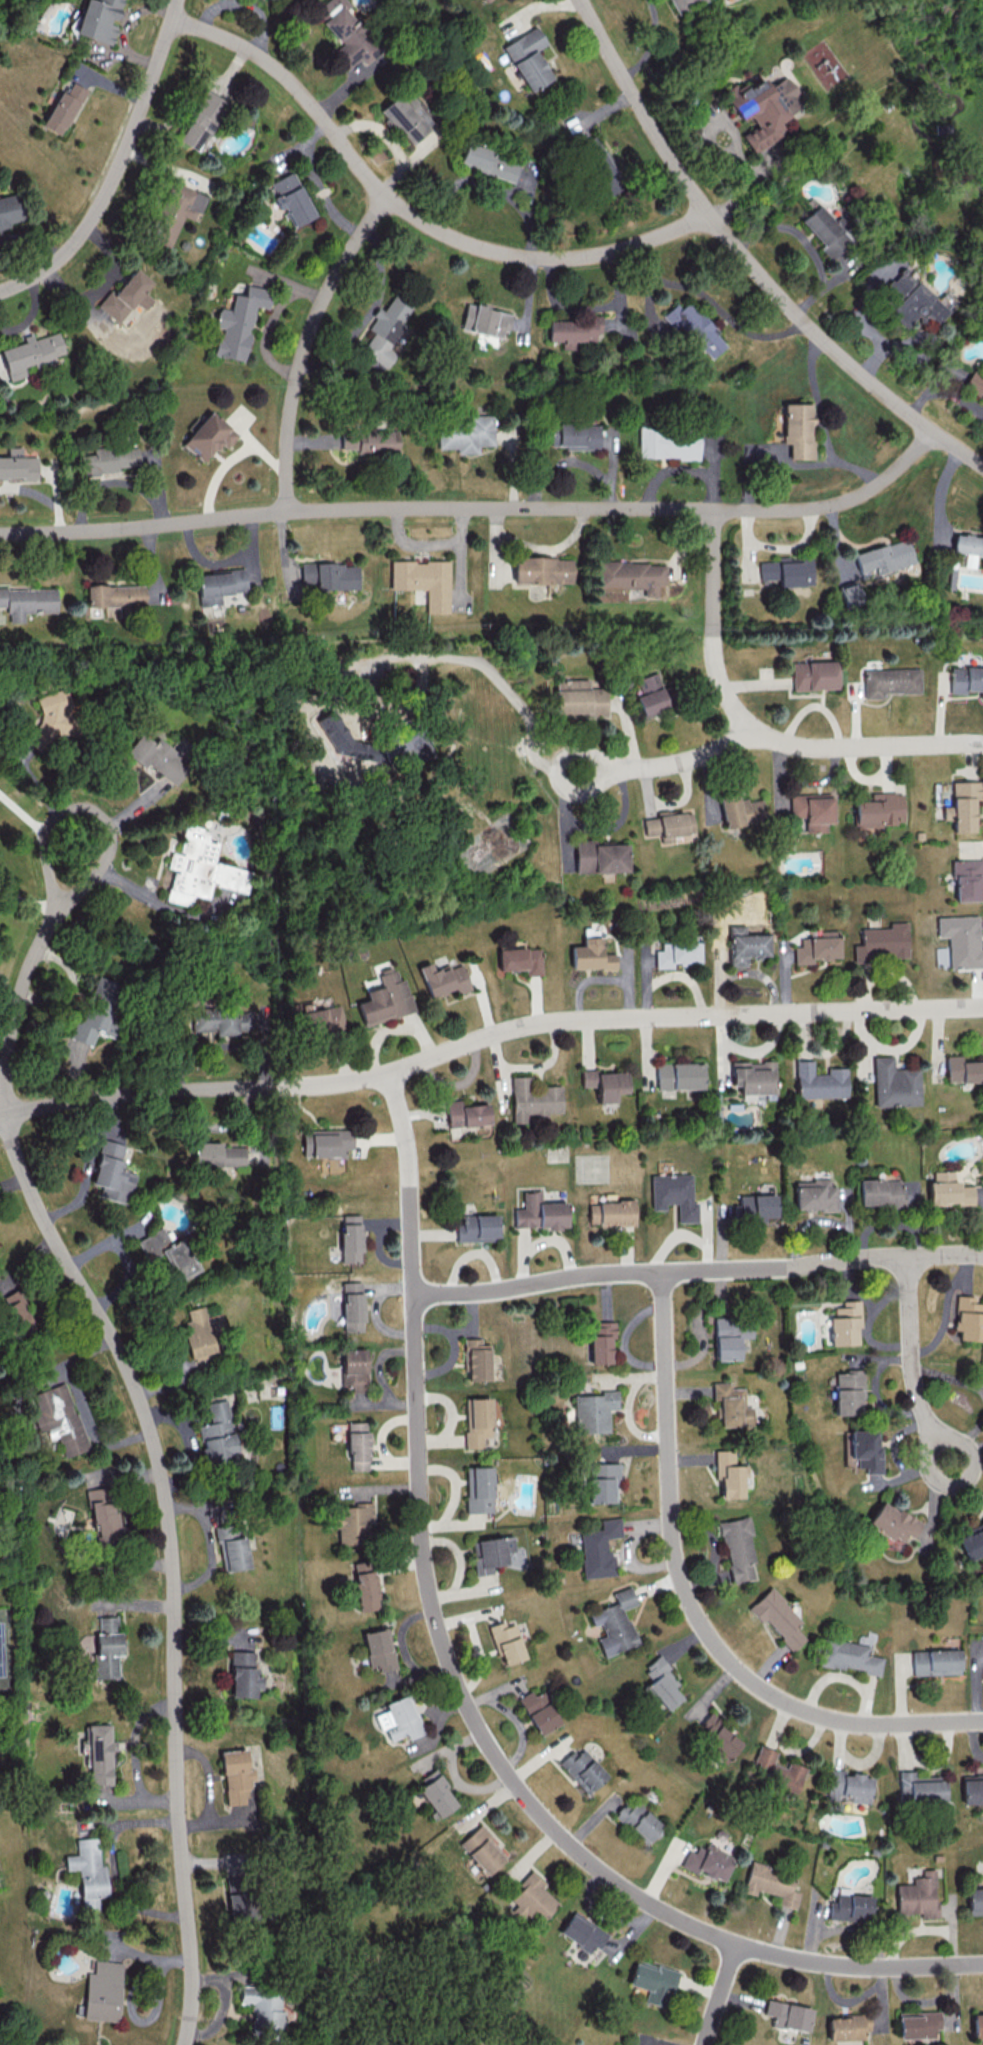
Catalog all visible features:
building: (281, 0)
building: (482, 0)
building: (97, 20)
building: (345, 33)
building: (528, 58)
building: (62, 108)
building: (761, 108)
building: (404, 119)
building: (202, 120)
building: (489, 161)
road: (120, 167)
building: (604, 173)
building: (291, 198)
building: (9, 210)
building: (176, 212)
road: (411, 212)
building: (823, 231)
road: (751, 259)
building: (127, 295)
building: (910, 301)
building: (485, 320)
building: (238, 322)
building: (694, 327)
building: (385, 330)
building: (573, 330)
road: (310, 345)
building: (30, 353)
building: (974, 384)
building: (798, 429)
building: (466, 433)
building: (208, 436)
building: (577, 436)
building: (370, 441)
building: (668, 443)
road: (829, 455)
building: (108, 459)
building: (18, 464)
road: (853, 468)
road: (480, 504)
building: (969, 547)
building: (884, 557)
building: (543, 570)
building: (788, 571)
building: (331, 575)
building: (632, 576)
building: (423, 581)
building: (218, 585)
building: (114, 595)
building: (26, 601)
road: (715, 623)
road: (398, 657)
building: (814, 675)
building: (966, 679)
building: (890, 681)
building: (580, 697)
building: (652, 701)
building: (50, 716)
road: (630, 733)
road: (789, 737)
building: (371, 742)
building: (156, 757)
road: (557, 770)
building: (962, 805)
road: (86, 807)
building: (879, 809)
building: (740, 811)
building: (811, 811)
road: (21, 812)
building: (669, 825)
building: (600, 857)
building: (199, 868)
building: (967, 880)
road: (156, 903)
building: (961, 940)
building: (882, 943)
building: (745, 945)
building: (817, 947)
building: (591, 952)
building: (676, 953)
building: (520, 959)
building: (443, 979)
building: (385, 999)
building: (97, 1010)
building: (224, 1020)
building: (320, 1021)
road: (486, 1035)
building: (962, 1070)
building: (679, 1076)
building: (754, 1077)
building: (819, 1081)
building: (604, 1083)
building: (894, 1083)
building: (533, 1099)
building: (465, 1113)
building: (326, 1142)
building: (216, 1154)
road: (87, 1164)
building: (112, 1172)
road: (12, 1182)
building: (947, 1190)
building: (879, 1192)
building: (910, 1193)
building: (674, 1195)
building: (815, 1195)
building: (755, 1207)
building: (539, 1212)
building: (611, 1212)
building: (477, 1228)
building: (351, 1238)
building: (168, 1252)
road: (124, 1257)
road: (696, 1270)
building: (352, 1306)
road: (946, 1309)
building: (17, 1310)
building: (968, 1319)
building: (844, 1324)
building: (199, 1335)
building: (730, 1336)
building: (602, 1341)
building: (476, 1360)
road: (914, 1361)
building: (353, 1369)
road: (950, 1376)
building: (847, 1391)
building: (731, 1405)
building: (594, 1411)
building: (59, 1418)
building: (477, 1421)
building: (217, 1433)
road: (965, 1439)
building: (357, 1445)
building: (861, 1449)
road: (157, 1450)
building: (729, 1473)
building: (602, 1482)
building: (478, 1489)
building: (103, 1514)
building: (891, 1522)
building: (351, 1523)
building: (971, 1542)
building: (231, 1547)
building: (598, 1548)
building: (737, 1548)
building: (490, 1554)
building: (364, 1585)
road: (692, 1606)
building: (778, 1617)
building: (614, 1622)
building: (506, 1643)
building: (107, 1647)
building: (378, 1649)
building: (848, 1656)
building: (936, 1662)
building: (243, 1674)
building: (661, 1682)
road: (464, 1695)
building: (538, 1711)
building: (398, 1718)
building: (717, 1735)
building: (99, 1754)
building: (582, 1770)
building: (778, 1771)
building: (235, 1776)
building: (847, 1786)
building: (921, 1787)
building: (972, 1787)
road: (209, 1790)
building: (435, 1793)
building: (638, 1820)
building: (481, 1849)
building: (708, 1862)
building: (87, 1871)
building: (771, 1883)
building: (235, 1890)
building: (918, 1896)
building: (532, 1897)
building: (975, 1900)
building: (849, 1906)
building: (581, 1933)
building: (652, 1981)
building: (103, 1991)
road: (722, 1994)
building: (263, 2011)
building: (788, 2015)
building: (918, 2024)
building: (977, 2025)
building: (847, 2026)

